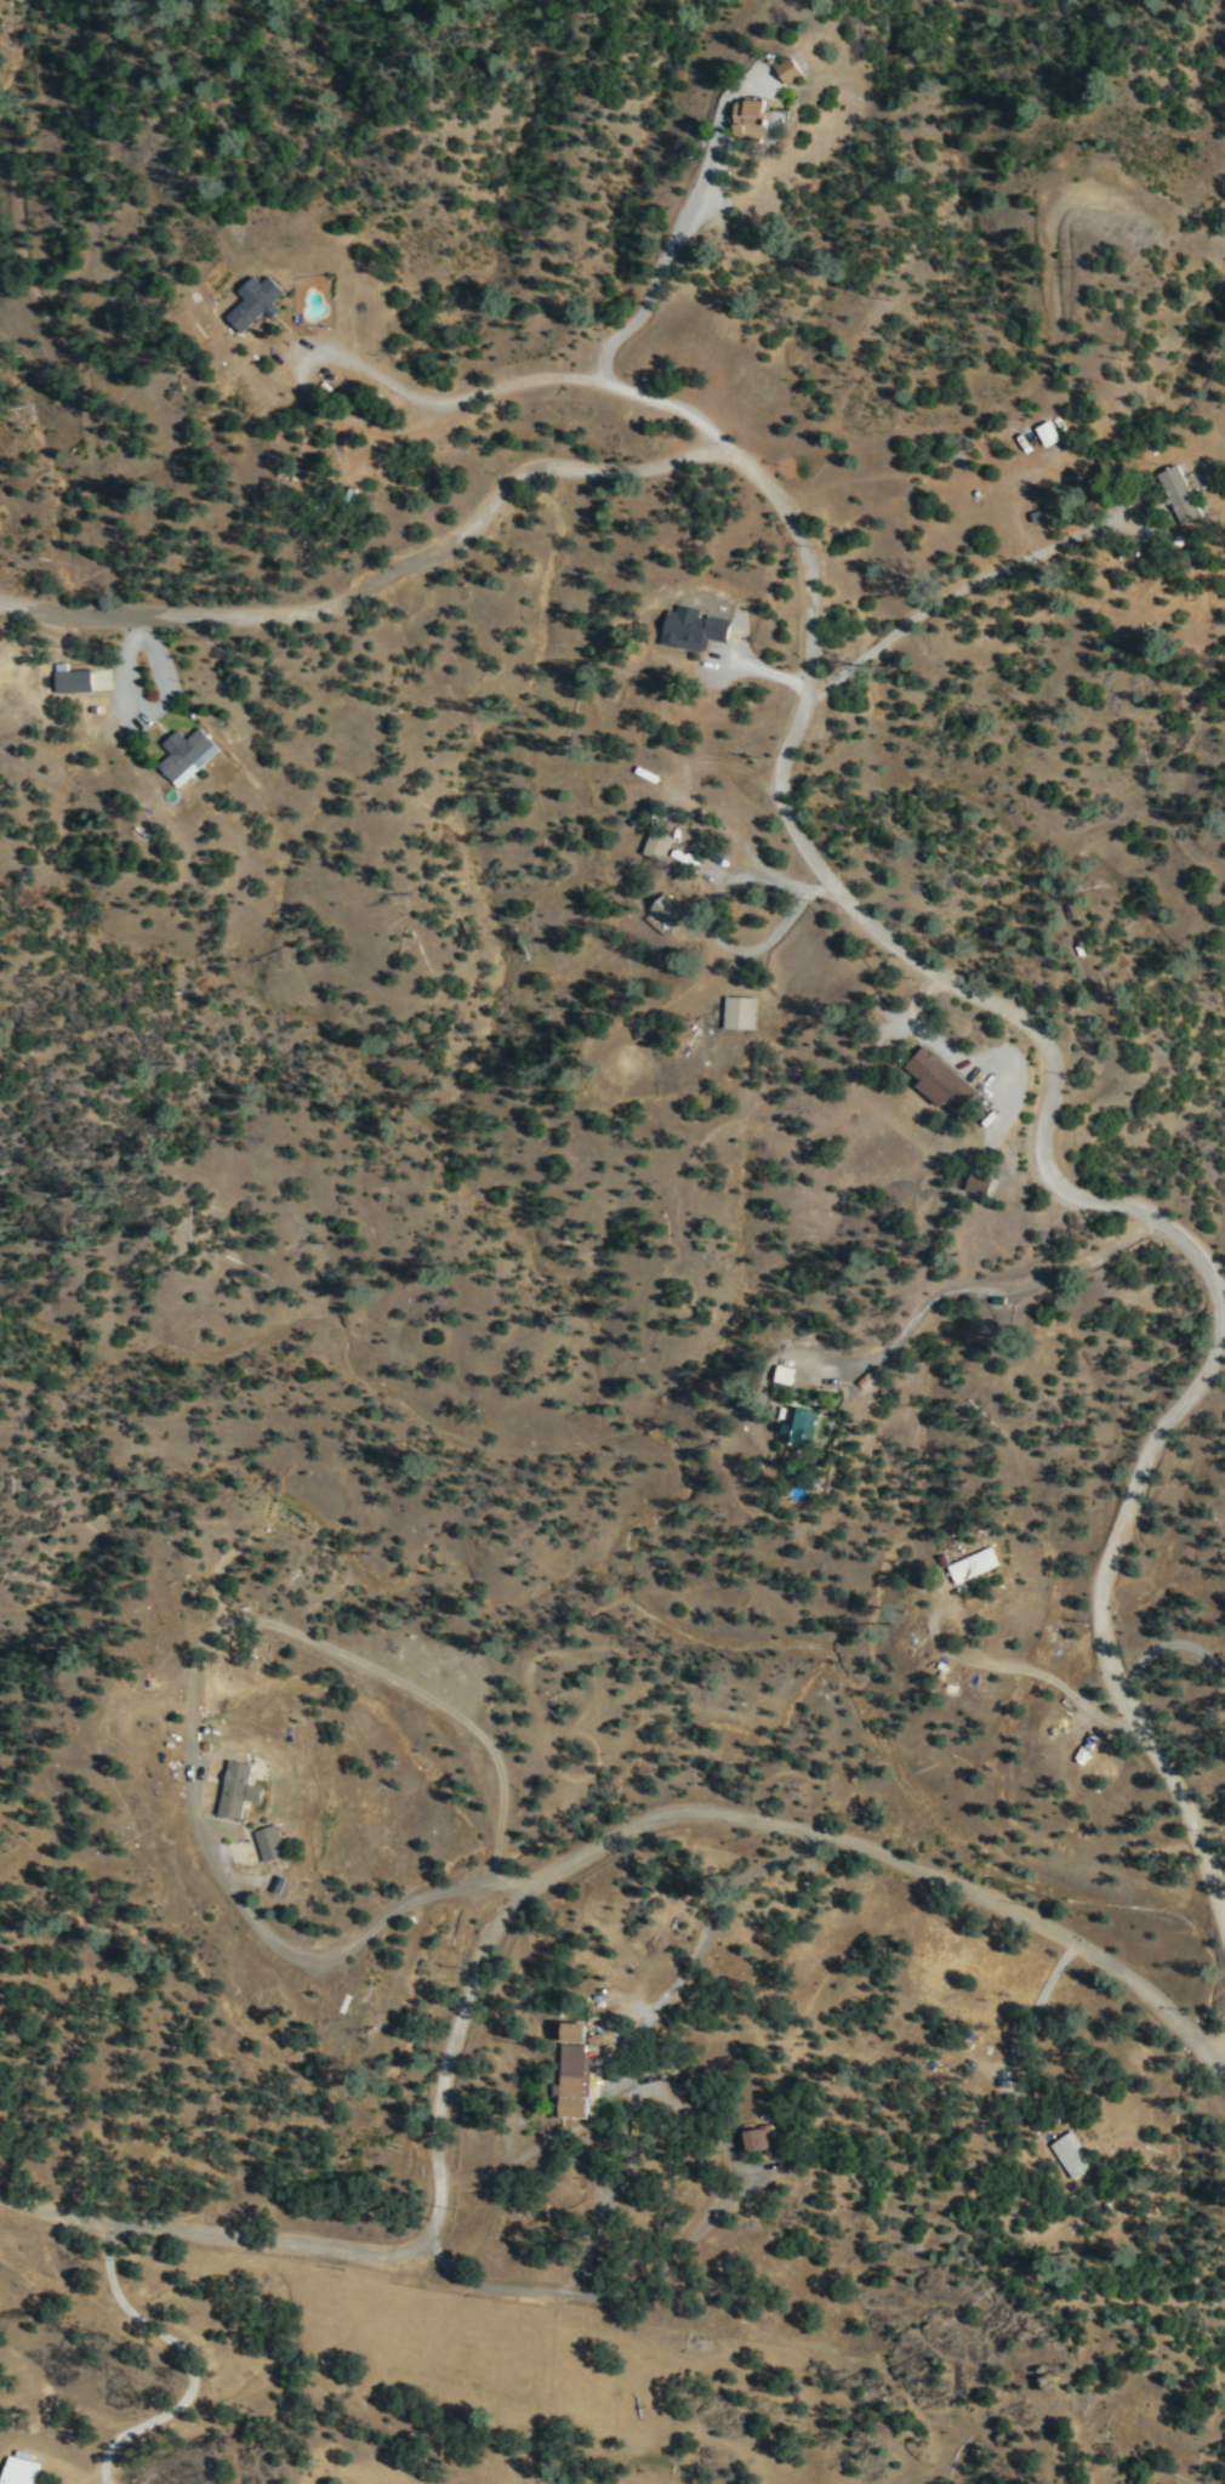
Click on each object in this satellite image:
building: (791, 67)
building: (754, 116)
building: (256, 300)
building: (1048, 432)
building: (1179, 493)
road: (815, 590)
building: (694, 626)
building: (73, 677)
building: (187, 754)
building: (657, 842)
building: (670, 910)
building: (740, 1011)
building: (940, 1078)
building: (979, 1182)
building: (797, 1422)
building: (973, 1563)
road: (1106, 1621)
building: (238, 1789)
road: (1208, 1817)
building: (270, 1844)
road: (526, 1903)
building: (576, 2029)
building: (572, 2080)
building: (759, 2137)
building: (1069, 2153)
building: (21, 2469)

